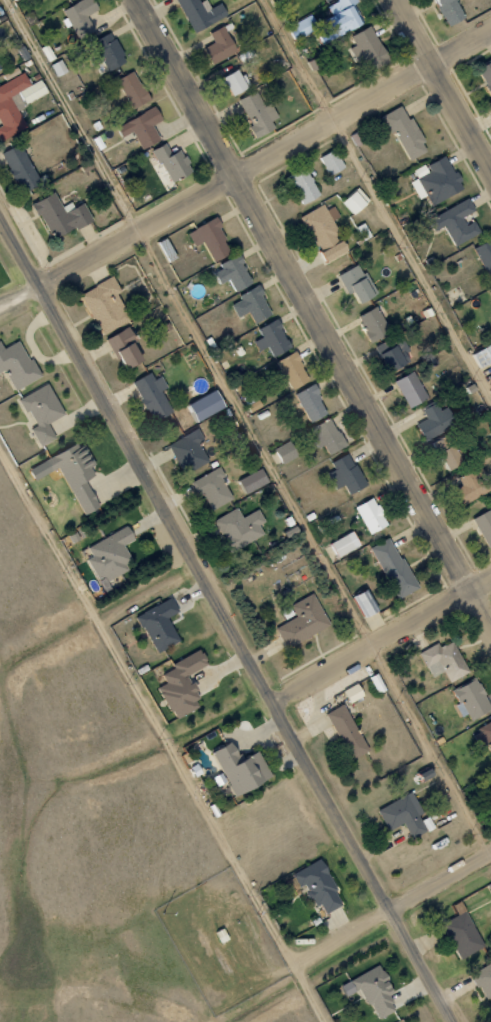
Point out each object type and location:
building: (323, 0)
building: (451, 10)
building: (201, 13)
building: (82, 16)
building: (330, 21)
building: (219, 45)
building: (369, 48)
building: (109, 51)
building: (48, 52)
building: (0, 67)
building: (59, 67)
building: (486, 73)
building: (237, 81)
road: (442, 86)
building: (133, 89)
building: (17, 102)
building: (258, 114)
building: (143, 127)
building: (406, 132)
building: (332, 161)
building: (174, 164)
building: (22, 167)
road: (246, 169)
building: (437, 180)
building: (305, 185)
road: (378, 198)
building: (356, 200)
building: (63, 215)
building: (456, 222)
building: (325, 231)
building: (212, 239)
building: (485, 256)
building: (234, 273)
building: (358, 283)
building: (490, 292)
building: (253, 304)
building: (107, 305)
road: (312, 318)
building: (374, 324)
building: (273, 338)
building: (126, 348)
building: (393, 353)
building: (483, 356)
building: (18, 365)
building: (293, 370)
building: (412, 389)
building: (153, 395)
building: (312, 403)
building: (208, 405)
building: (43, 412)
building: (436, 419)
road: (252, 424)
building: (329, 436)
building: (189, 451)
building: (287, 451)
building: (449, 451)
building: (77, 474)
building: (347, 474)
building: (472, 486)
building: (214, 488)
building: (372, 515)
building: (485, 526)
building: (240, 527)
building: (346, 543)
building: (111, 555)
building: (394, 567)
building: (367, 603)
road: (225, 618)
building: (304, 621)
building: (160, 624)
road: (381, 639)
building: (445, 660)
building: (183, 684)
building: (472, 699)
building: (348, 731)
road: (163, 733)
building: (483, 736)
building: (242, 769)
building: (406, 815)
road: (438, 880)
building: (319, 886)
building: (463, 933)
building: (485, 981)
building: (374, 989)

